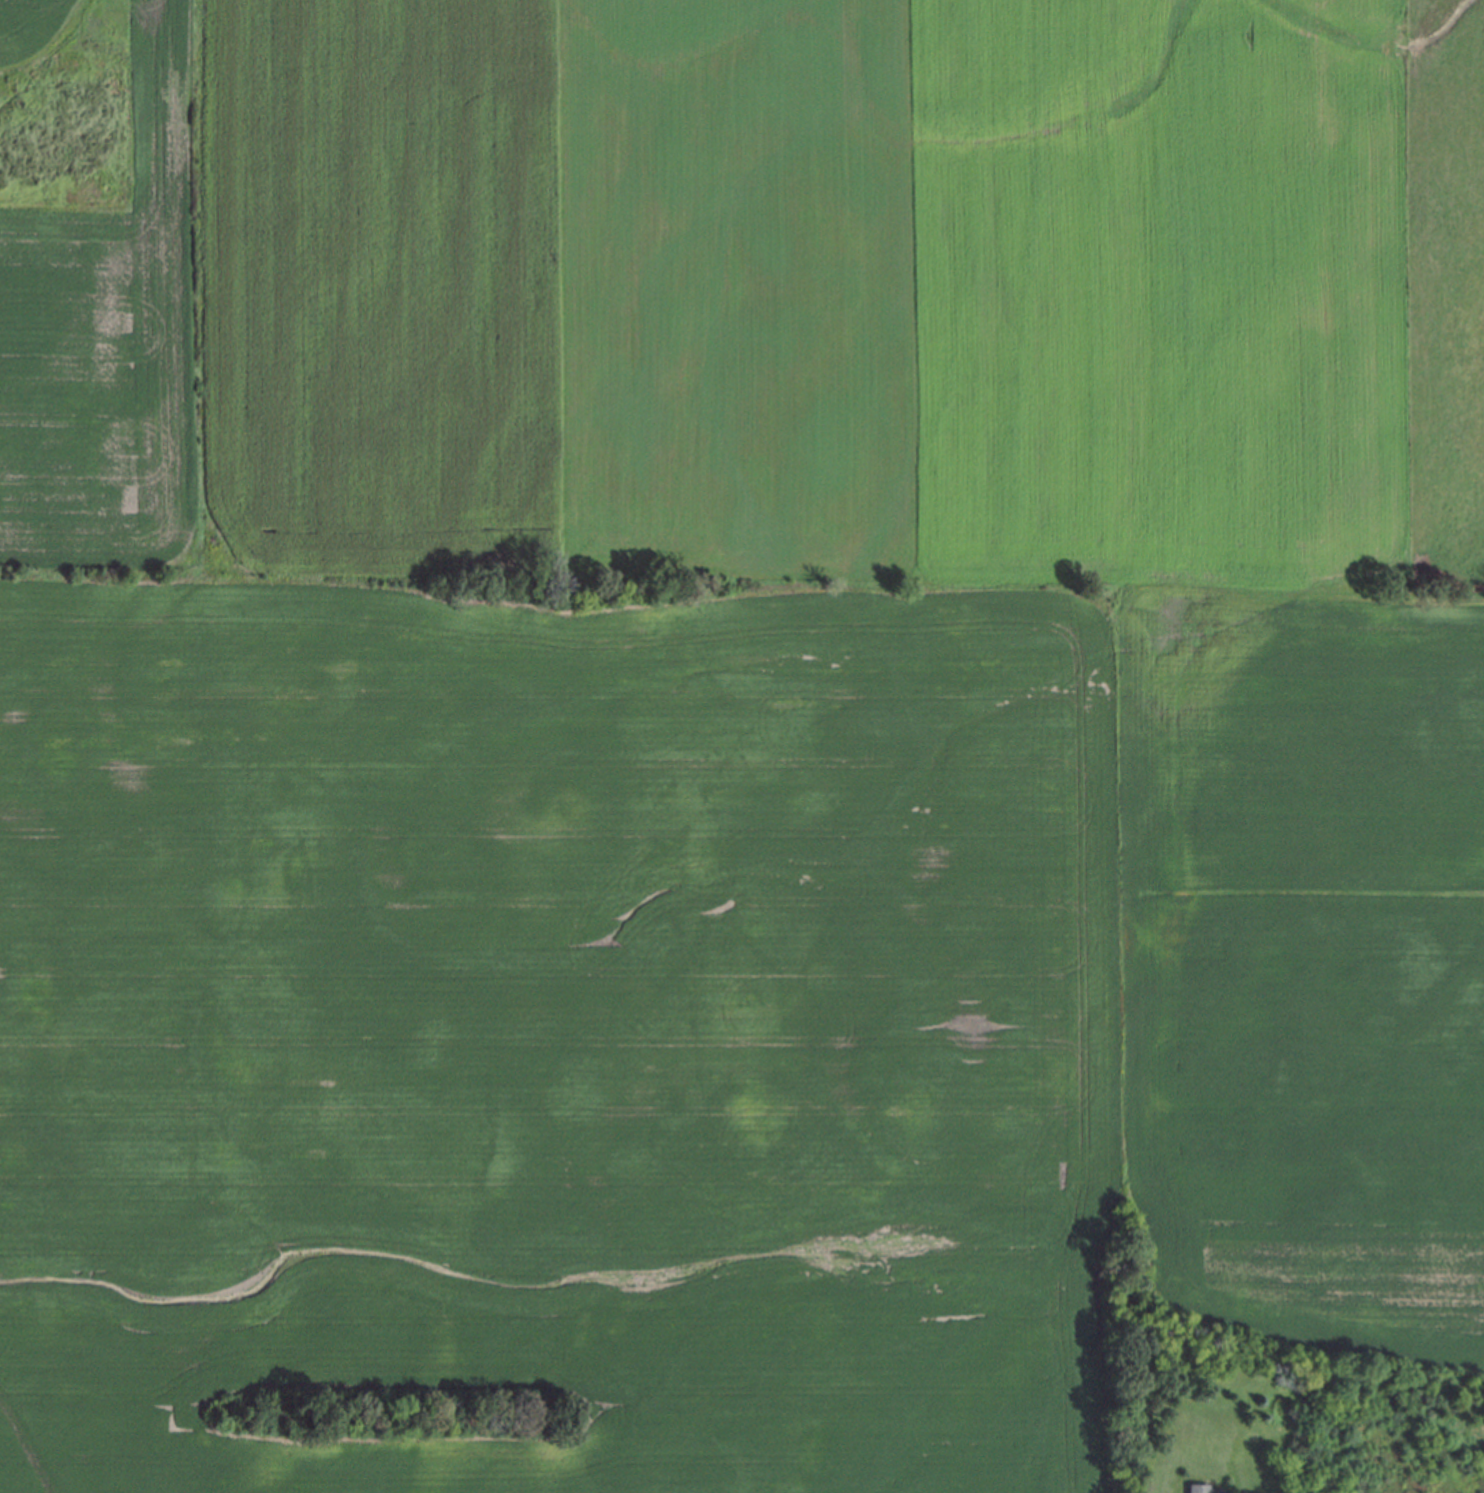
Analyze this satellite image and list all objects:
building: (1197, 1488)

